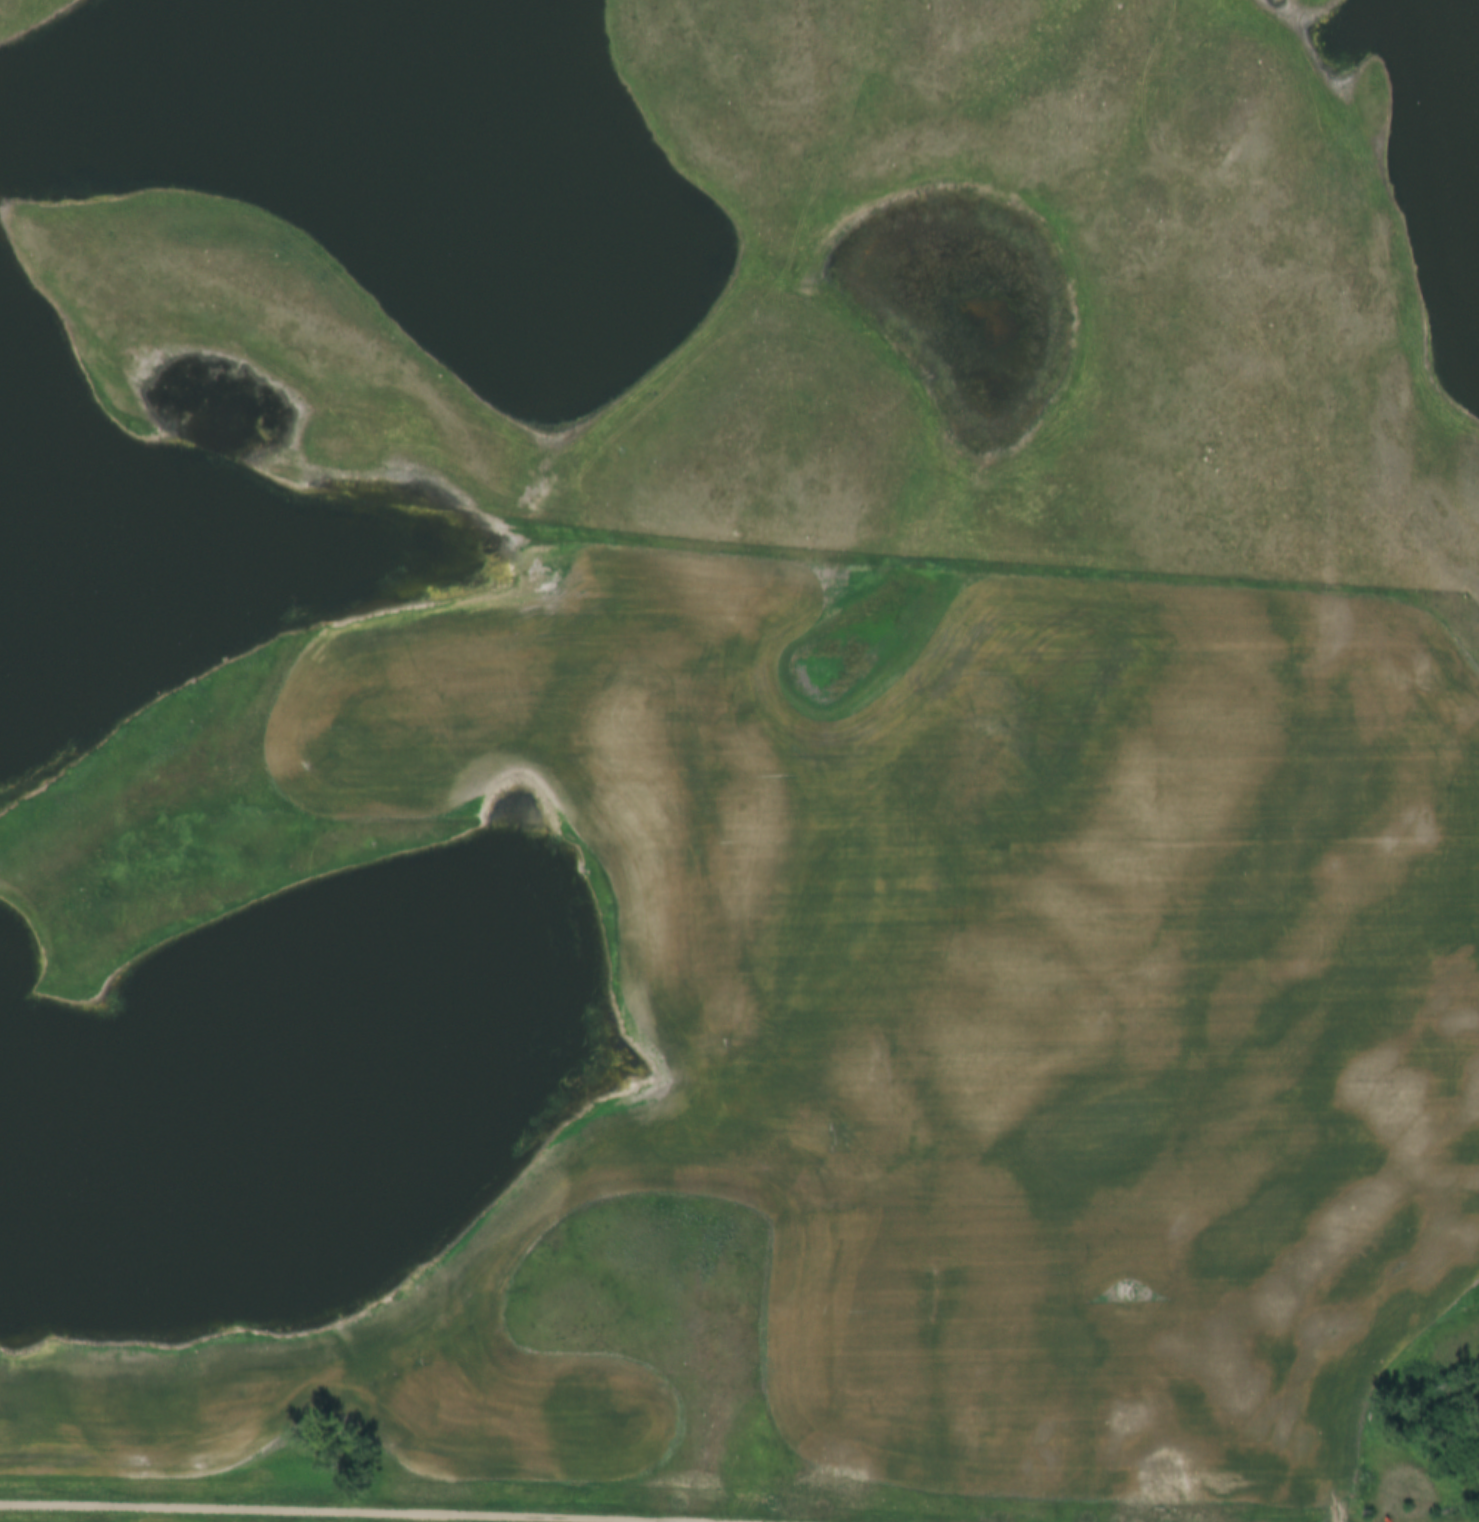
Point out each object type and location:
road: (335, 1513)

